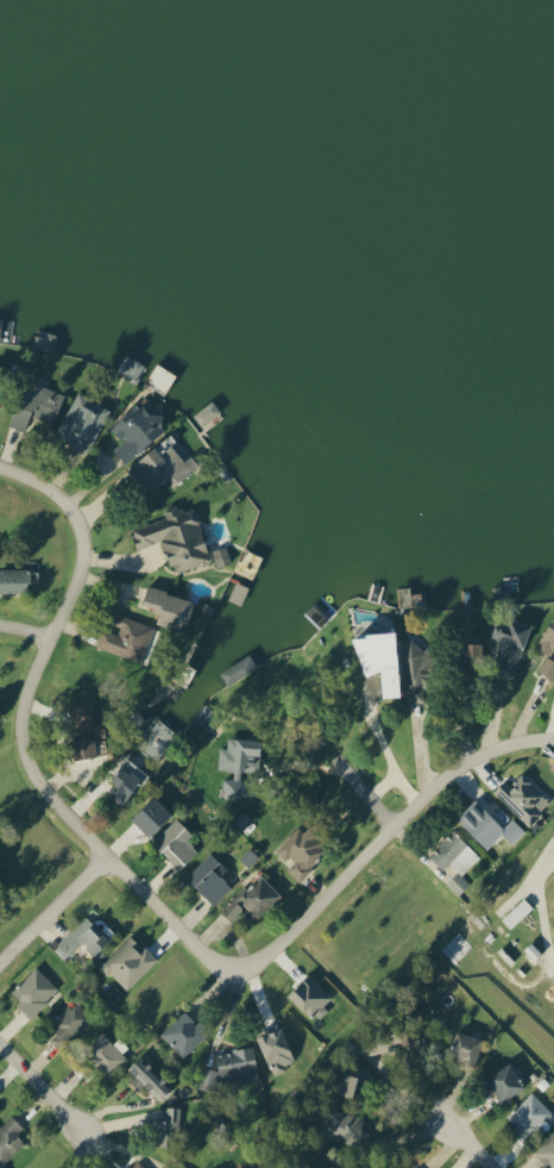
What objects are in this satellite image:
building: (0, 326)
building: (132, 370)
building: (1, 379)
building: (37, 406)
building: (207, 413)
building: (82, 423)
building: (137, 431)
building: (164, 466)
building: (176, 538)
building: (221, 557)
building: (17, 580)
building: (170, 607)
road: (23, 631)
building: (126, 638)
building: (510, 643)
building: (547, 649)
building: (380, 656)
building: (471, 657)
building: (417, 669)
building: (86, 729)
building: (157, 739)
building: (238, 761)
building: (126, 780)
road: (370, 795)
building: (521, 798)
building: (151, 814)
building: (487, 825)
building: (175, 843)
park: (26, 849)
building: (301, 850)
building: (454, 858)
road: (542, 861)
building: (209, 877)
road: (141, 895)
building: (252, 899)
road: (51, 908)
building: (82, 937)
building: (128, 962)
building: (33, 991)
building: (70, 1023)
building: (184, 1032)
building: (466, 1047)
building: (106, 1053)
building: (238, 1064)
building: (149, 1078)
building: (207, 1078)
building: (506, 1081)
road: (43, 1082)
building: (528, 1114)
building: (166, 1126)
building: (10, 1139)
road: (476, 1143)
building: (546, 1151)
building: (137, 1164)
building: (165, 1166)
building: (416, 1167)

